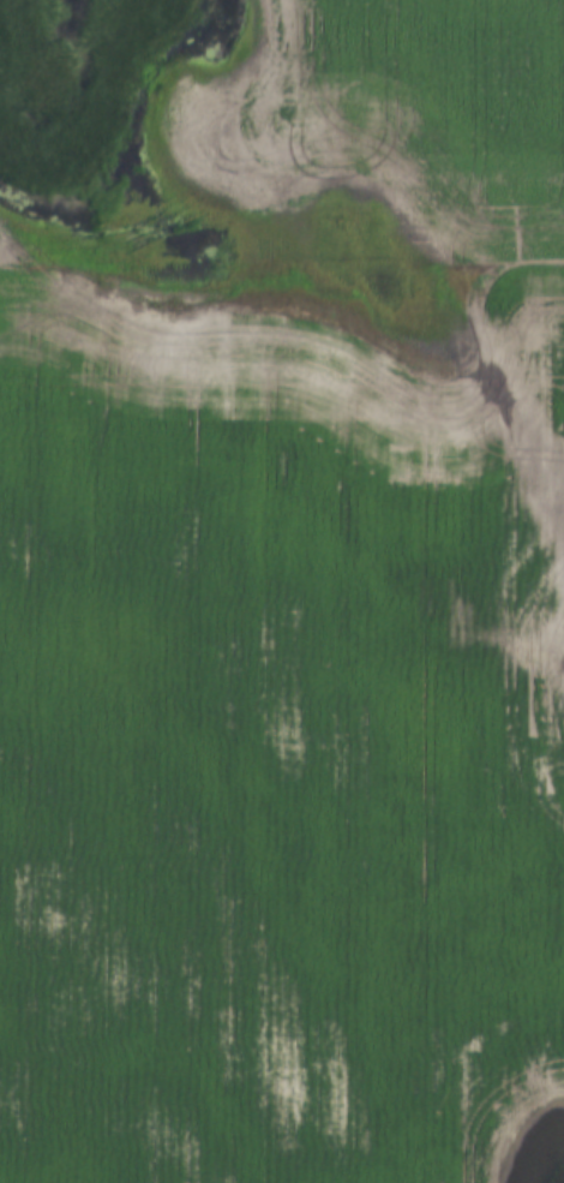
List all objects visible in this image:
crop: (290, 611)

